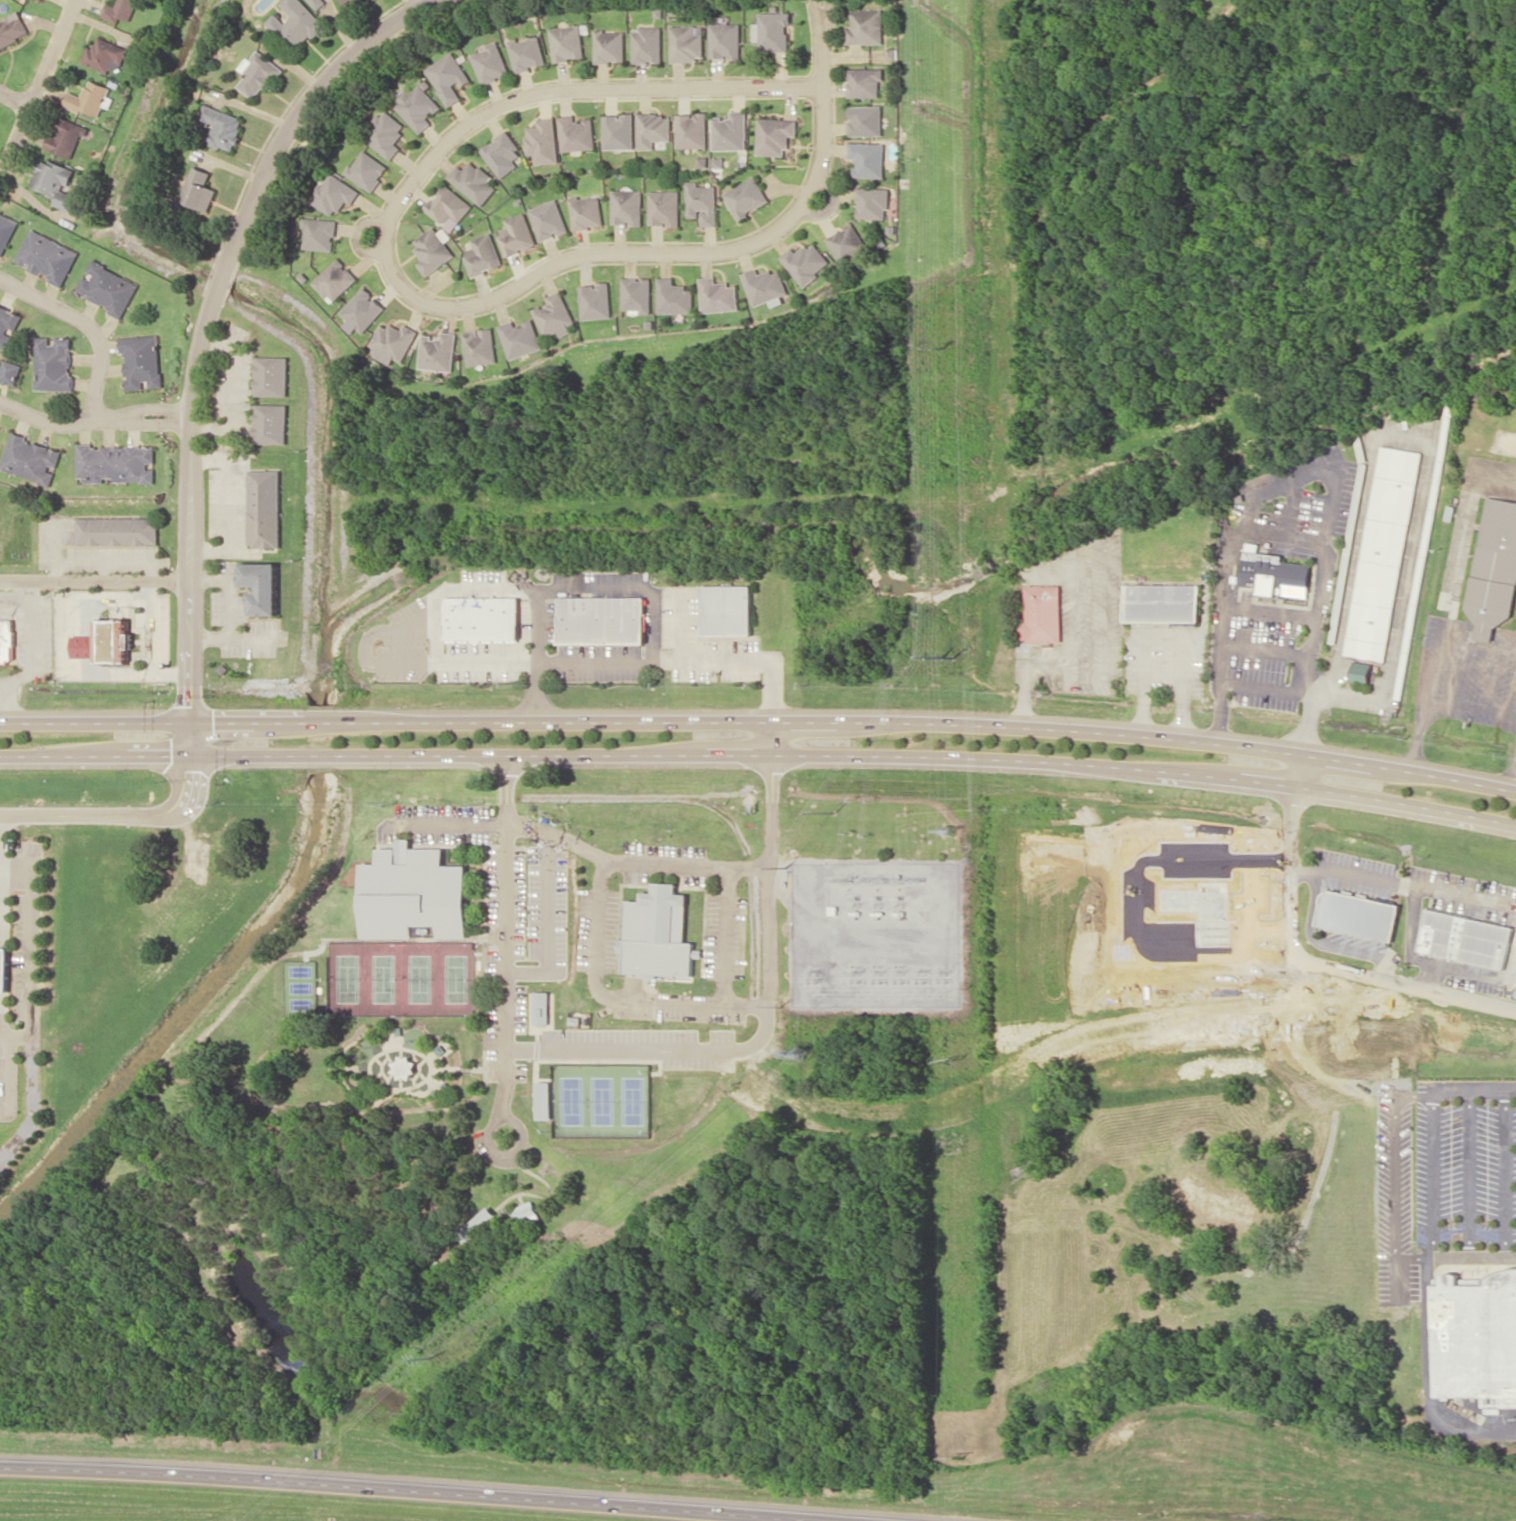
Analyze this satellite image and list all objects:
road: (422, 1)
building: (346, 2)
building: (317, 3)
building: (119, 9)
building: (295, 23)
building: (866, 26)
building: (12, 28)
building: (774, 31)
building: (725, 40)
building: (568, 41)
building: (687, 42)
road: (822, 43)
building: (647, 44)
building: (610, 45)
building: (527, 52)
building: (104, 55)
building: (491, 63)
building: (257, 73)
building: (448, 77)
building: (865, 82)
road: (38, 89)
road: (16, 94)
building: (89, 98)
building: (418, 105)
building: (866, 120)
building: (222, 126)
building: (653, 129)
building: (692, 130)
building: (618, 131)
building: (730, 131)
building: (385, 133)
building: (577, 133)
building: (775, 135)
building: (66, 137)
building: (543, 140)
building: (502, 153)
building: (868, 158)
building: (367, 170)
building: (474, 181)
building: (54, 182)
building: (198, 189)
building: (334, 193)
building: (746, 196)
building: (872, 202)
building: (702, 203)
building: (448, 205)
building: (627, 206)
building: (664, 207)
building: (586, 212)
building: (548, 219)
building: (6, 230)
building: (319, 233)
building: (516, 234)
building: (847, 242)
building: (433, 249)
building: (483, 254)
building: (47, 256)
road: (383, 256)
building: (806, 262)
building: (335, 280)
building: (765, 285)
building: (107, 287)
building: (637, 294)
building: (718, 295)
building: (674, 296)
building: (595, 300)
building: (363, 309)
building: (554, 315)
road: (207, 321)
building: (8, 322)
road: (89, 326)
building: (520, 337)
building: (394, 341)
building: (480, 346)
power tower: (942, 347)
building: (439, 351)
building: (142, 361)
building: (53, 363)
building: (10, 371)
building: (272, 375)
road: (233, 392)
road: (146, 418)
road: (49, 421)
building: (272, 423)
building: (31, 459)
building: (116, 463)
road: (229, 504)
building: (266, 506)
building: (118, 530)
road: (57, 551)
building: (1382, 552)
road: (112, 562)
building: (1492, 568)
road: (104, 570)
building: (1275, 572)
road: (95, 579)
road: (529, 584)
building: (263, 585)
river: (924, 585)
road: (231, 588)
road: (564, 589)
building: (1164, 602)
building: (725, 609)
building: (1044, 611)
building: (478, 618)
building: (601, 619)
road: (678, 623)
road: (233, 638)
building: (8, 643)
building: (106, 646)
power tower: (952, 656)
power tower: (941, 659)
road: (684, 660)
building: (1362, 672)
road: (760, 721)
road: (771, 737)
river: (318, 738)
traffic signals: (193, 739)
road: (760, 753)
road: (1298, 768)
road: (138, 819)
parking lot: (437, 823)
road: (500, 823)
road: (1514, 825)
power tower: (949, 830)
parking lot: (526, 838)
road: (487, 848)
road: (1305, 865)
road: (768, 870)
road: (0, 877)
road: (0, 880)
road: (1465, 892)
building: (415, 895)
road: (1315, 902)
building: (1359, 914)
building: (657, 932)
power substation: (876, 932)
road: (507, 935)
road: (726, 935)
road: (478, 936)
road: (597, 936)
building: (1467, 938)
road: (419, 939)
road: (1434, 962)
road: (1322, 963)
parking lot: (505, 965)
building: (5, 969)
road: (28, 972)
park: (401, 976)
road: (1437, 977)
building: (541, 1007)
road: (15, 1035)
power tower: (800, 1054)
road: (343, 1056)
road: (459, 1067)
road: (486, 1069)
road: (5, 1073)
road: (10, 1078)
road: (172, 1081)
road: (409, 1086)
road: (1475, 1088)
road: (427, 1089)
park: (601, 1095)
road: (382, 1098)
building: (543, 1100)
road: (306, 1105)
road: (517, 1120)
road: (17, 1141)
road: (544, 1157)
road: (1435, 1166)
road: (1472, 1173)
road: (1509, 1173)
road: (433, 1195)
road: (554, 1198)
road: (516, 1210)
building: (527, 1213)
road: (270, 1218)
road: (237, 1220)
road: (251, 1226)
road: (191, 1237)
park: (513, 1243)
road: (1474, 1258)
building: (1477, 1337)
power tower: (439, 1355)
road: (308, 1373)
road: (1428, 1374)
road: (413, 1489)

